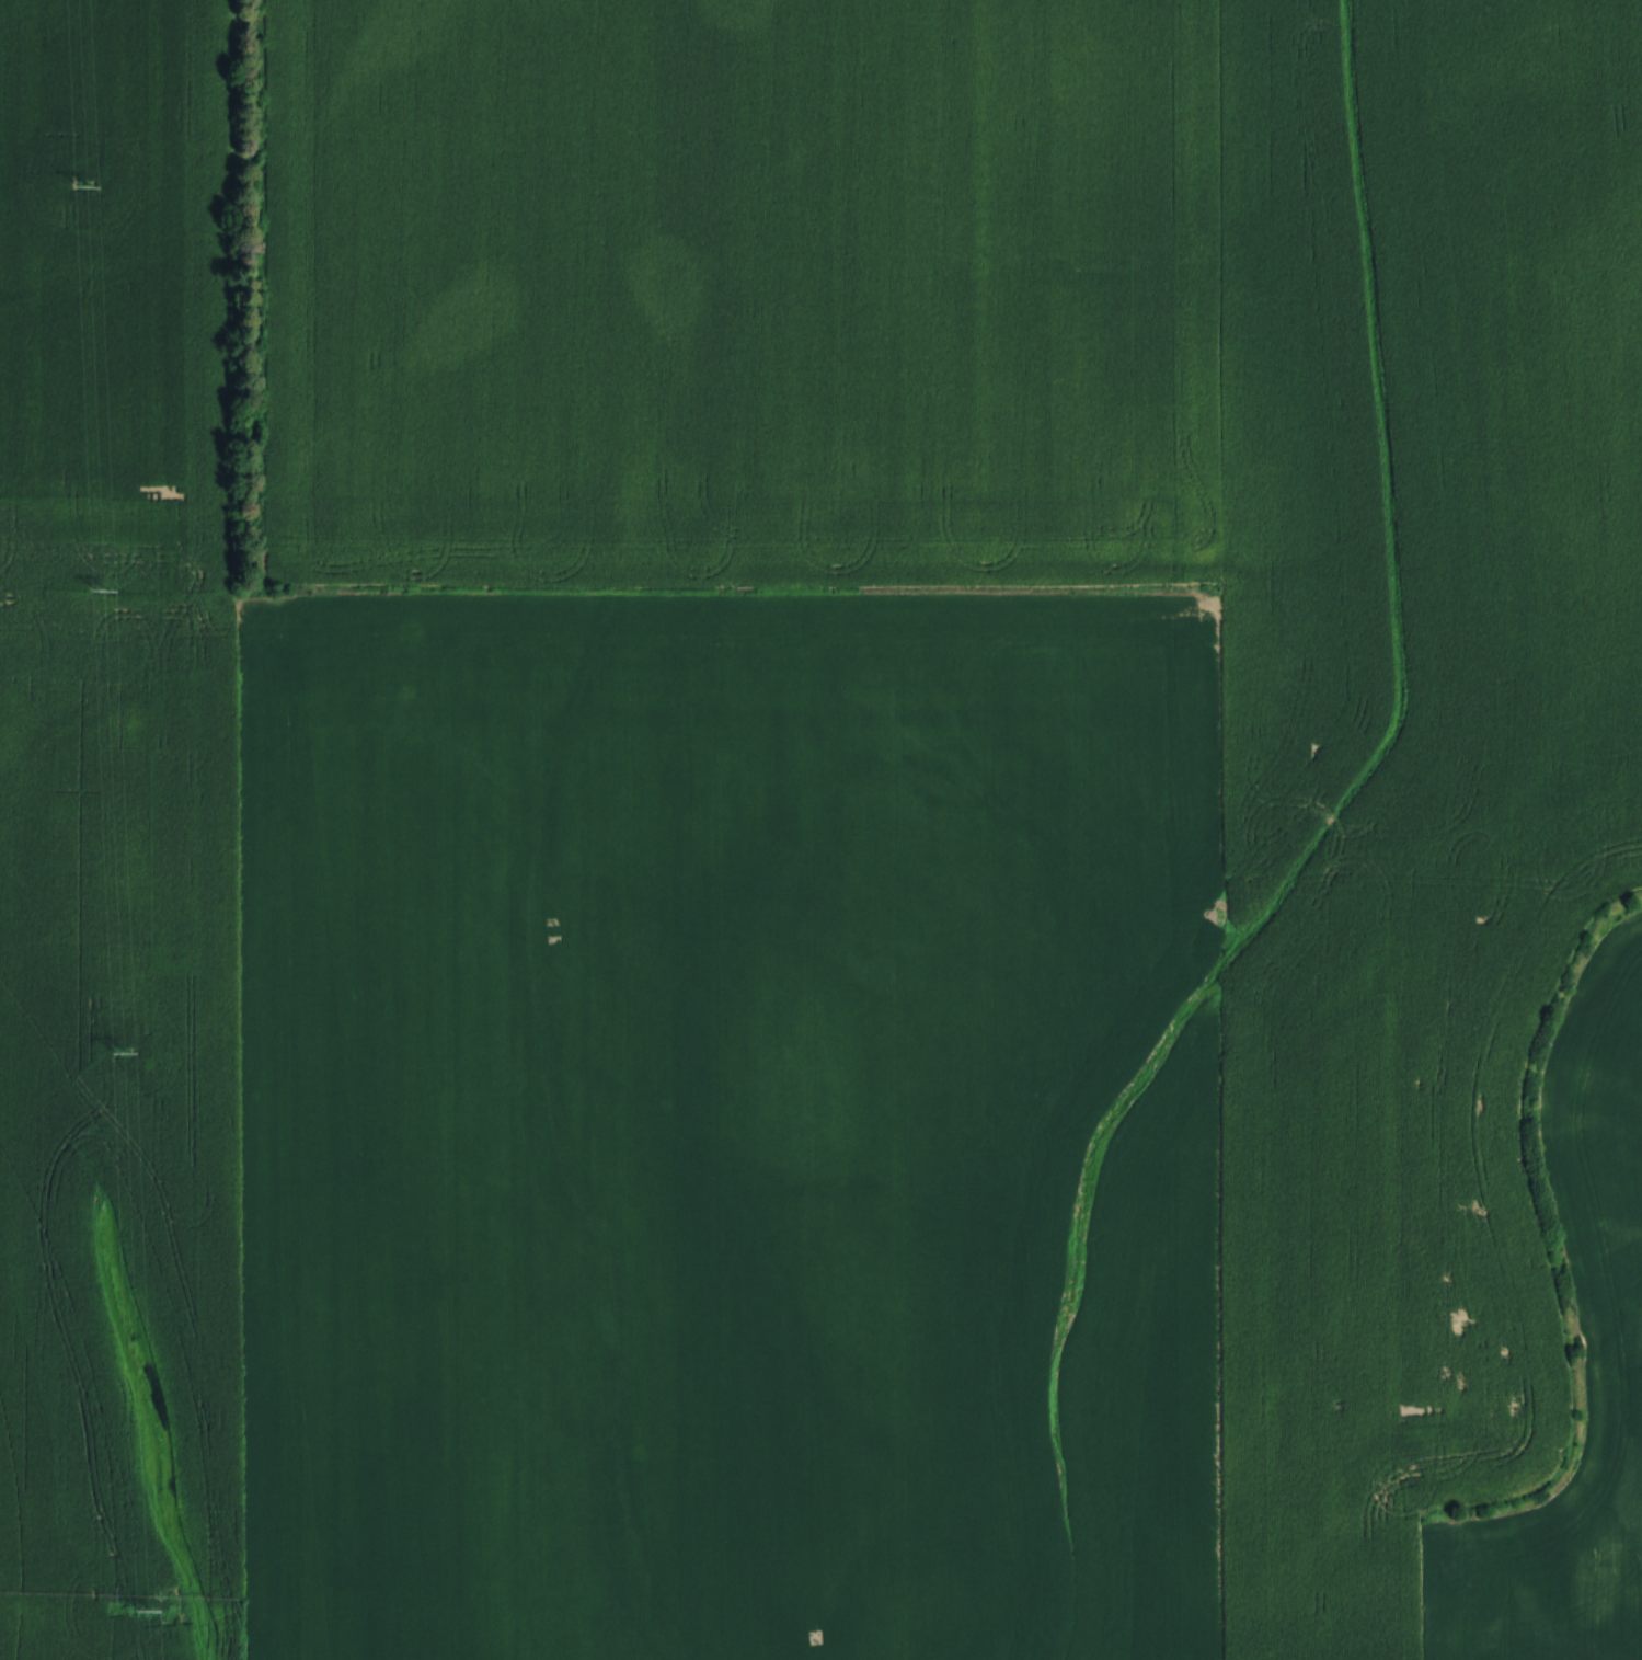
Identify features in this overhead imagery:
power tower: (85, 186)
power tower: (101, 592)
power tower: (119, 1051)
power tower: (146, 1610)

